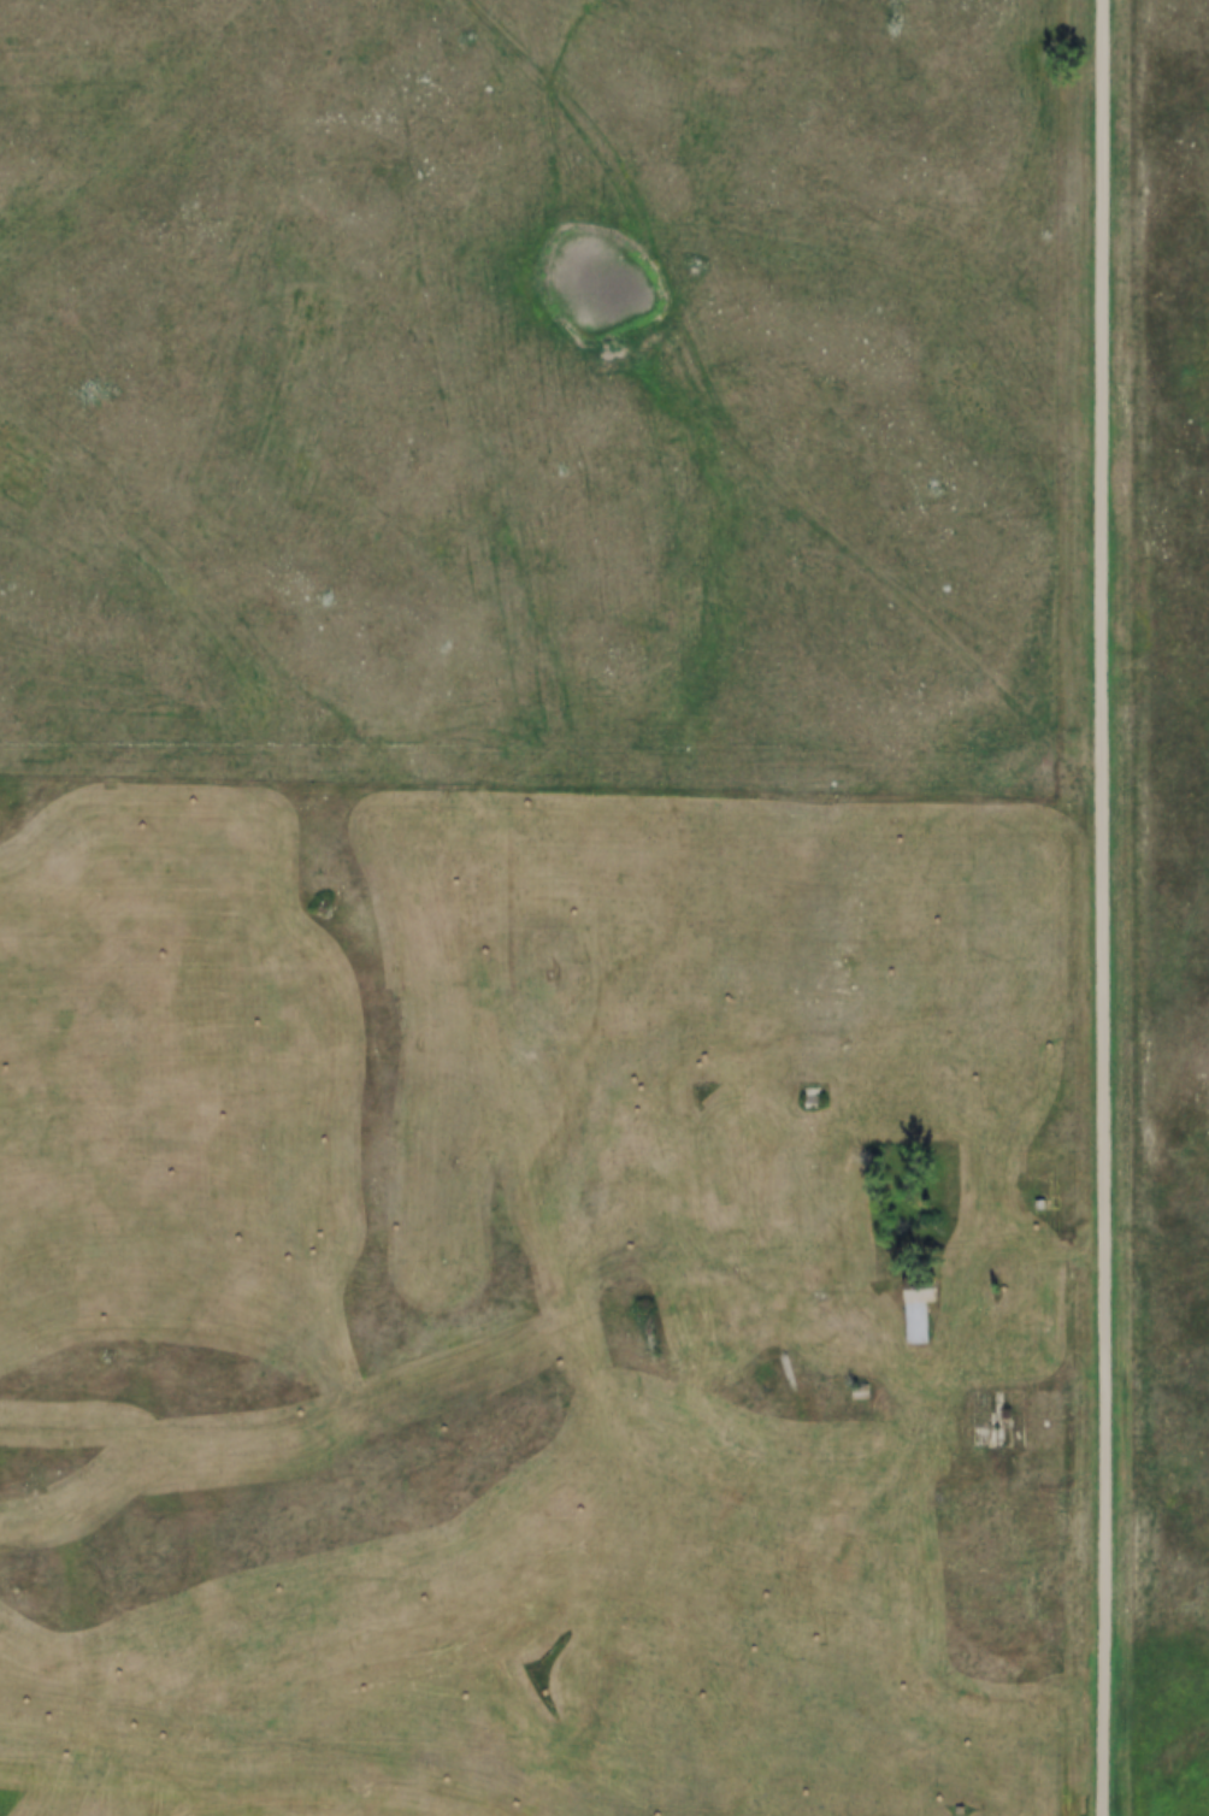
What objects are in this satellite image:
road: (1103, 871)
building: (918, 1313)
road: (1105, 1779)

